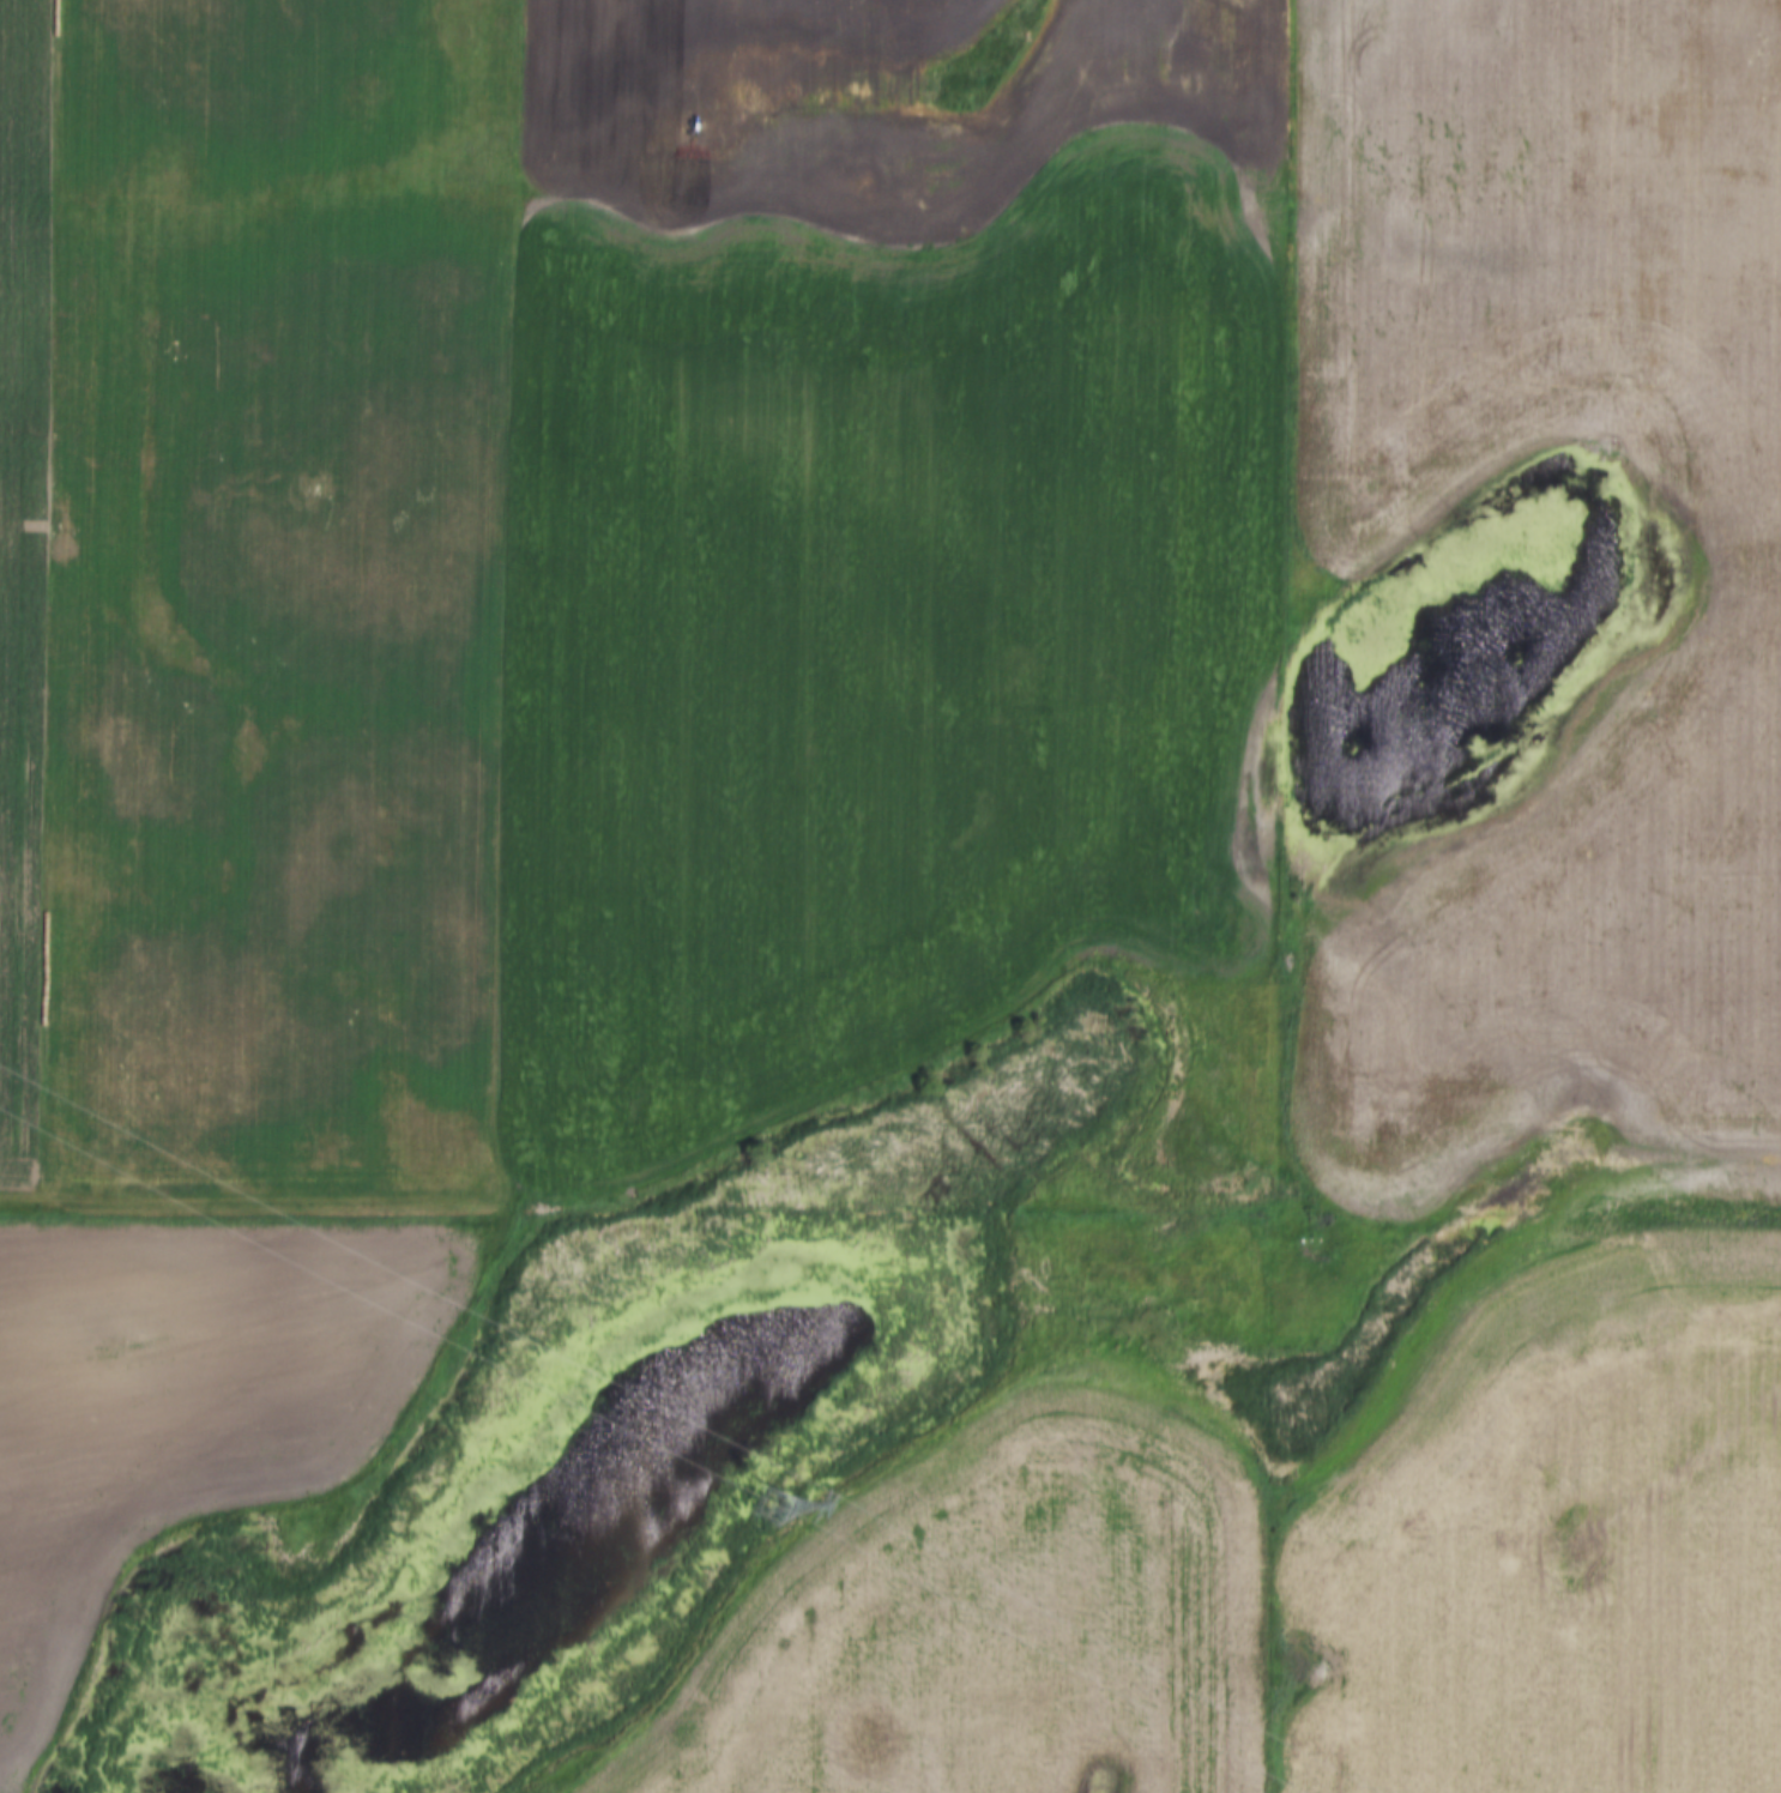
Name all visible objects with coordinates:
power tower: (772, 1504)

